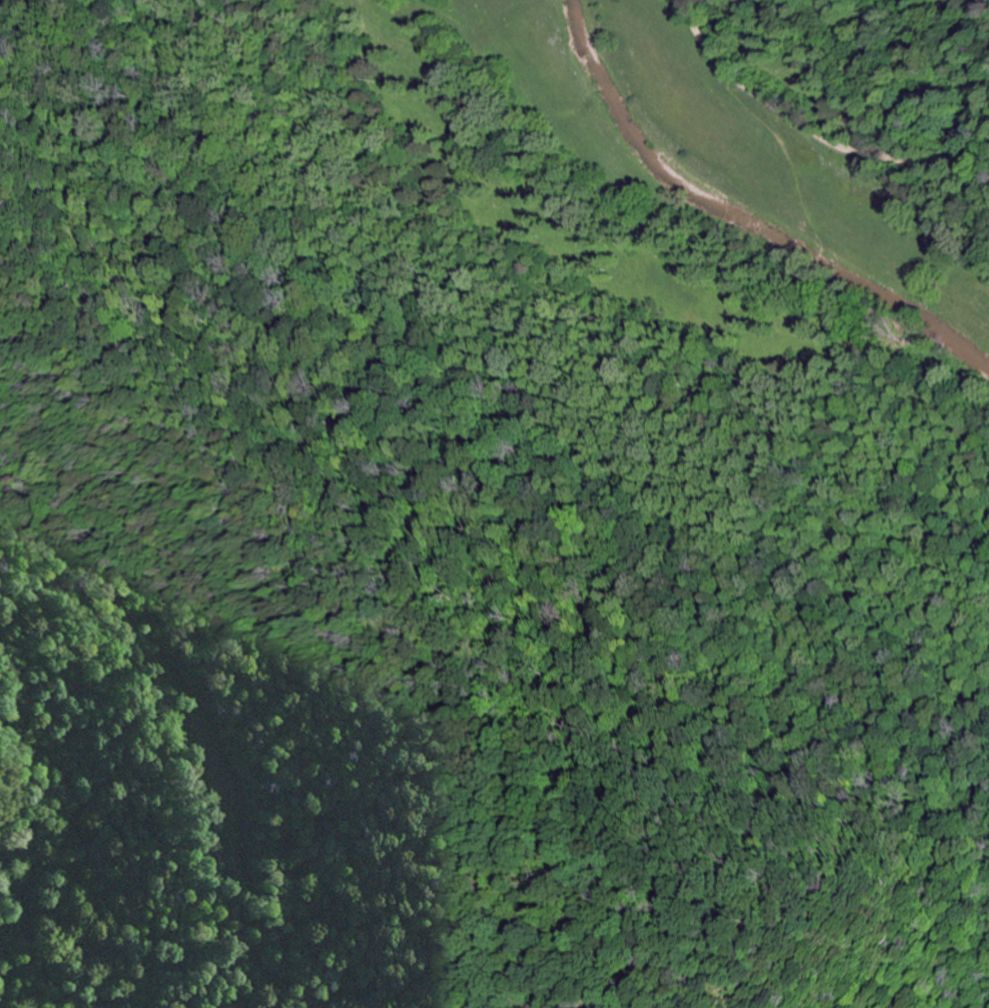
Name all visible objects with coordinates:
road: (802, 137)

